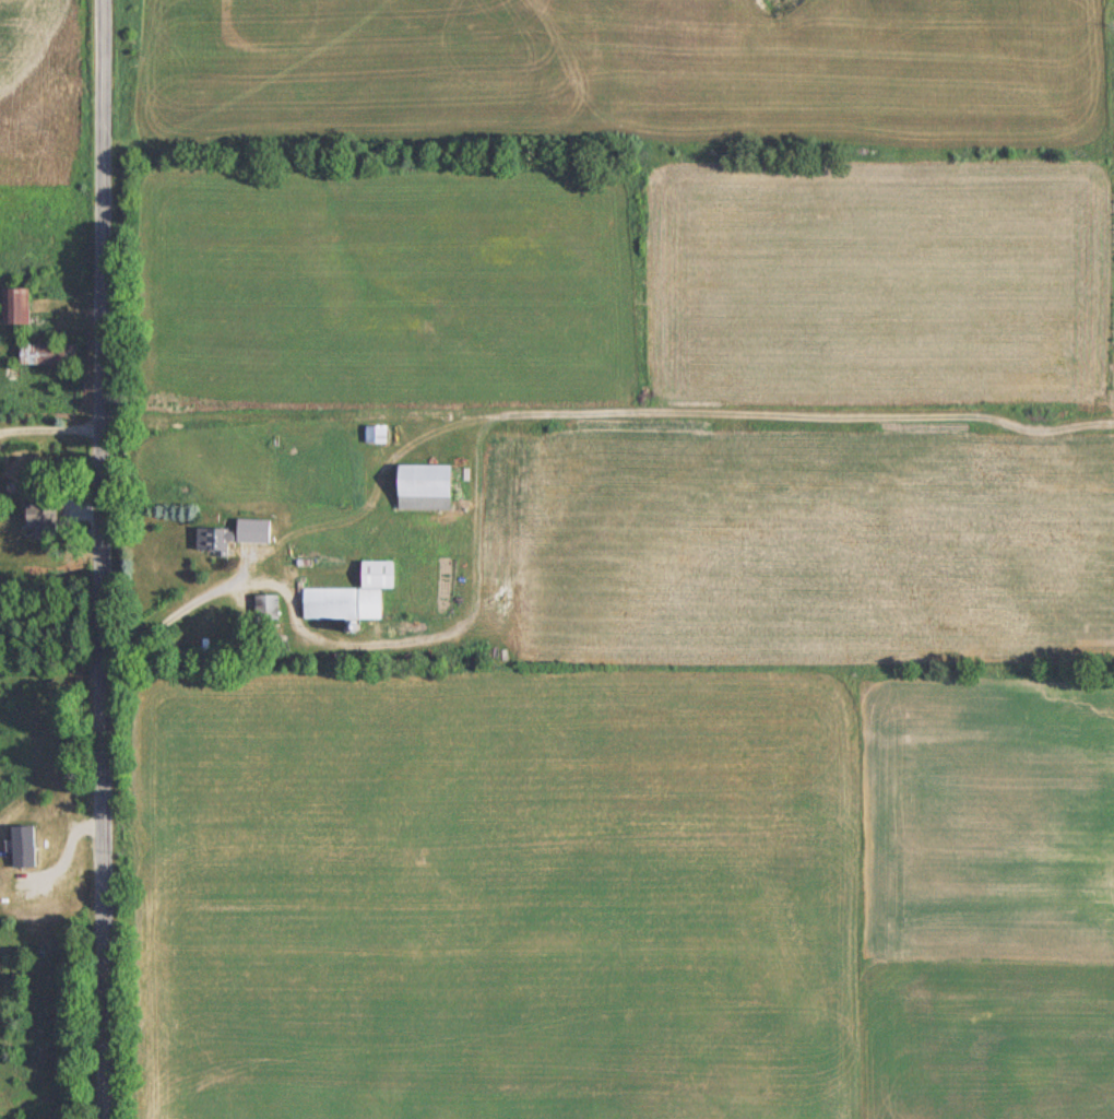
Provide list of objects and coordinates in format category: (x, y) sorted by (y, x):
building: (3, 306)
building: (45, 354)
building: (371, 435)
building: (418, 487)
building: (28, 518)
building: (249, 532)
road: (102, 559)
building: (347, 596)
building: (262, 606)

